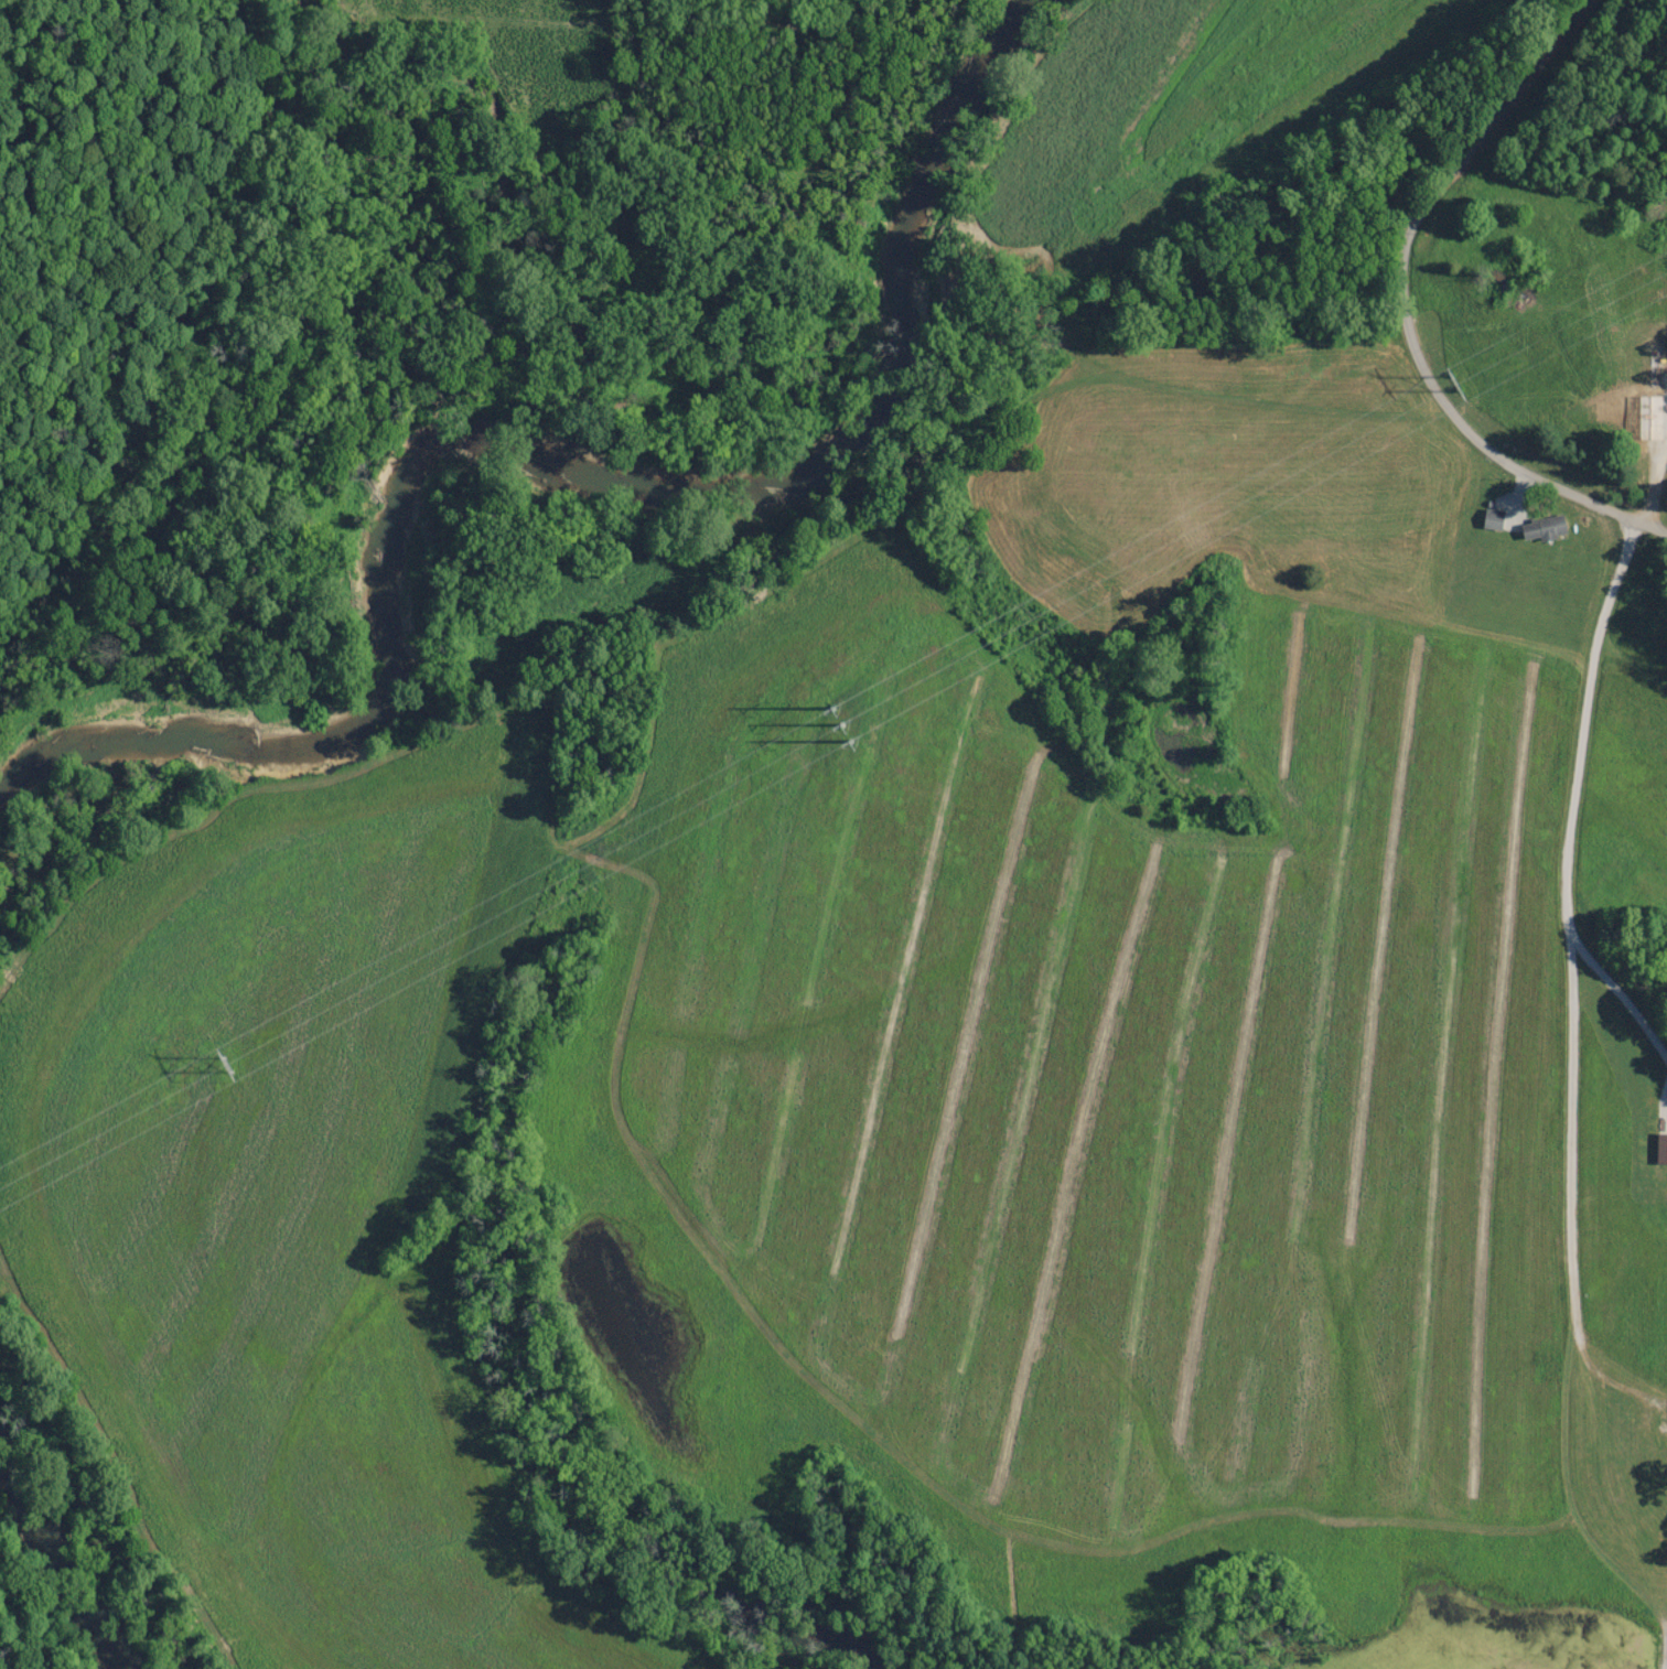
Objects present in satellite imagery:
road: (1426, 294)
power tower: (1451, 386)
building: (1649, 416)
building: (1489, 519)
building: (1536, 529)
power tower: (869, 708)
power tower: (226, 1065)
building: (1658, 1428)

